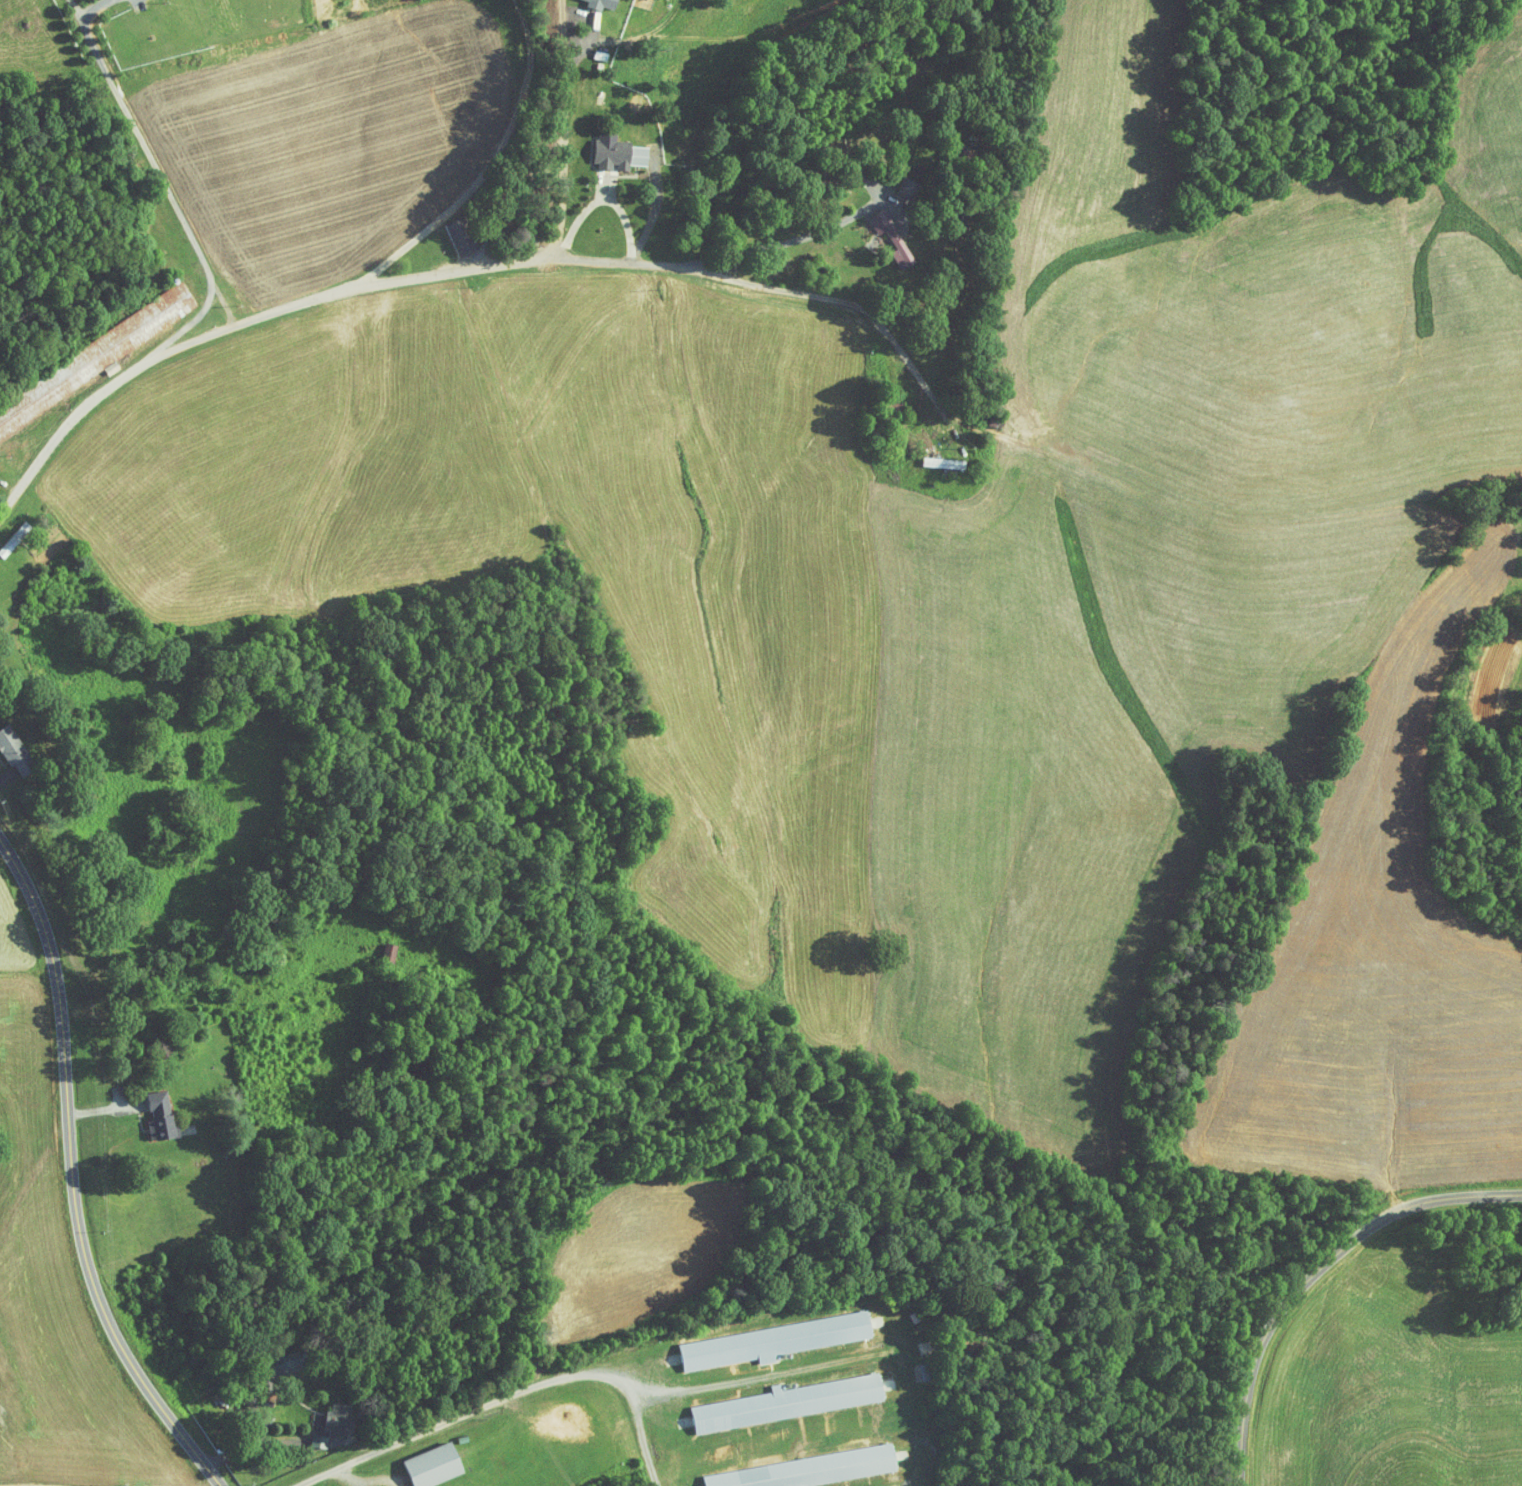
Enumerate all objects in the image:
building: (594, 1)
road: (561, 129)
building: (604, 149)
road: (150, 157)
road: (492, 160)
building: (894, 176)
building: (446, 230)
building: (877, 231)
road: (798, 238)
road: (732, 278)
road: (184, 326)
building: (113, 330)
building: (929, 458)
building: (7, 752)
building: (373, 947)
building: (145, 1110)
road: (72, 1179)
road: (1309, 1269)
building: (757, 1335)
building: (265, 1363)
road: (511, 1393)
building: (774, 1396)
building: (323, 1415)
building: (305, 1435)
building: (418, 1460)
building: (787, 1466)

